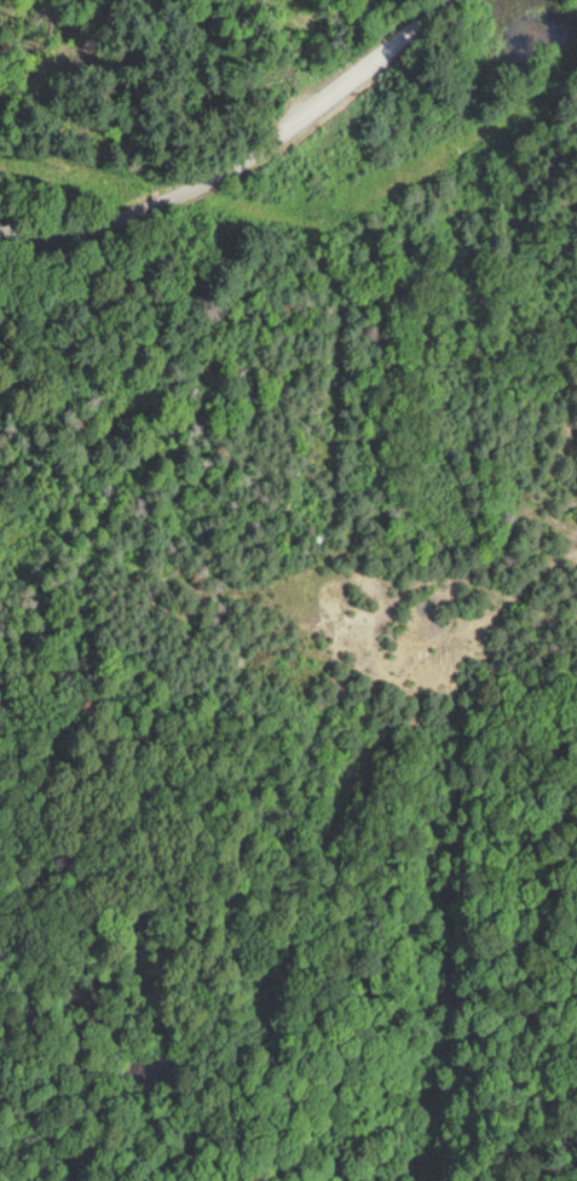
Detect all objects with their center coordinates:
road: (227, 144)

